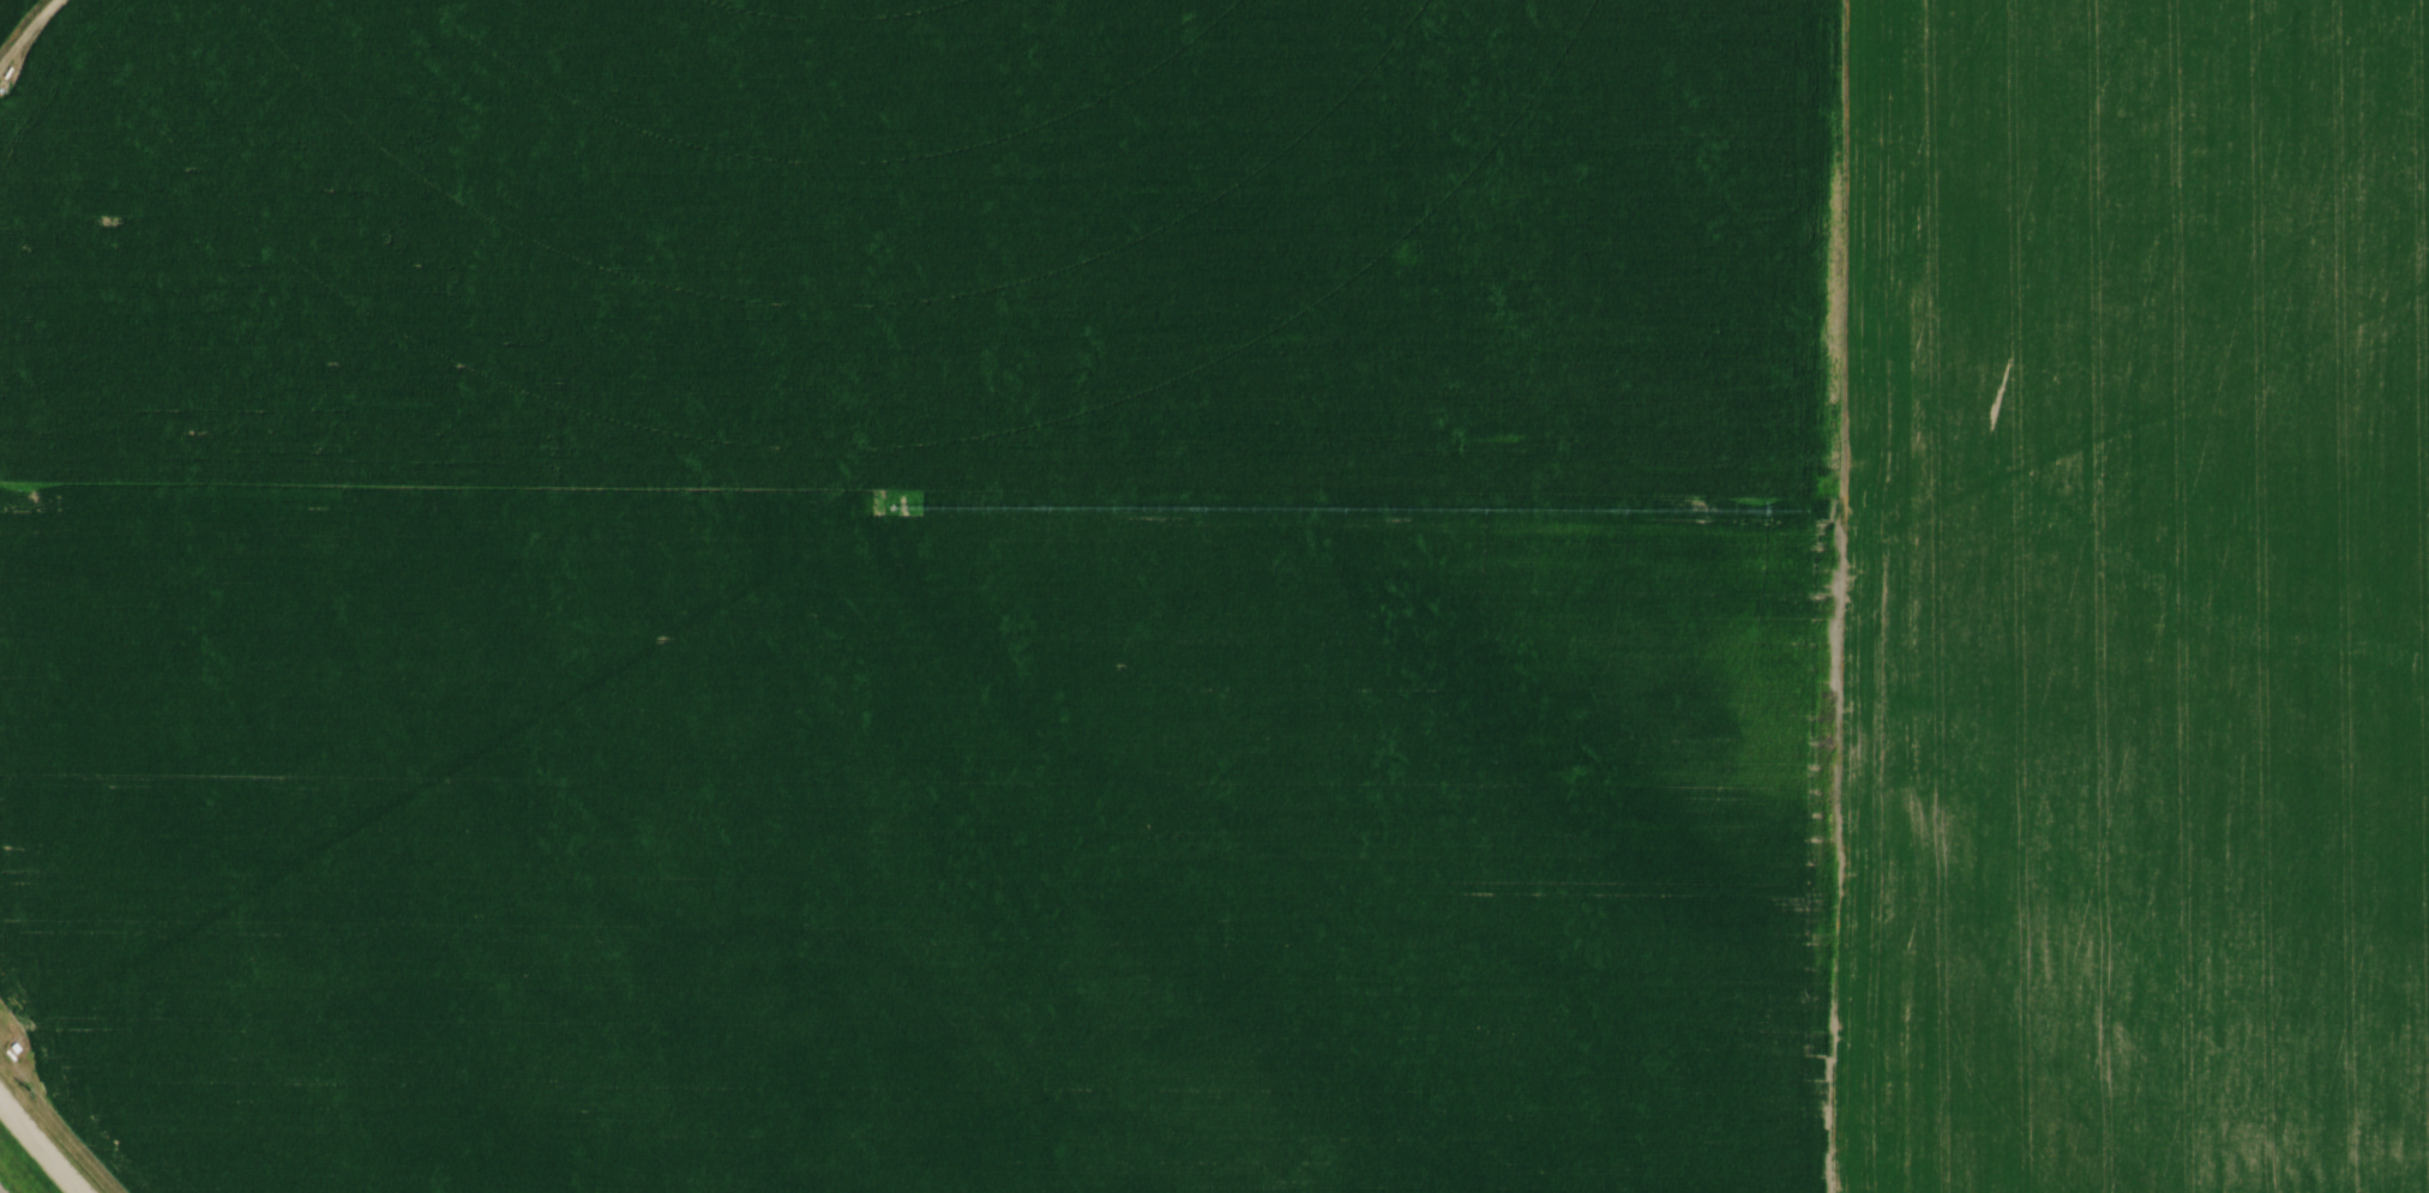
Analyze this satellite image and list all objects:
road: (25, 31)
road: (42, 1143)

